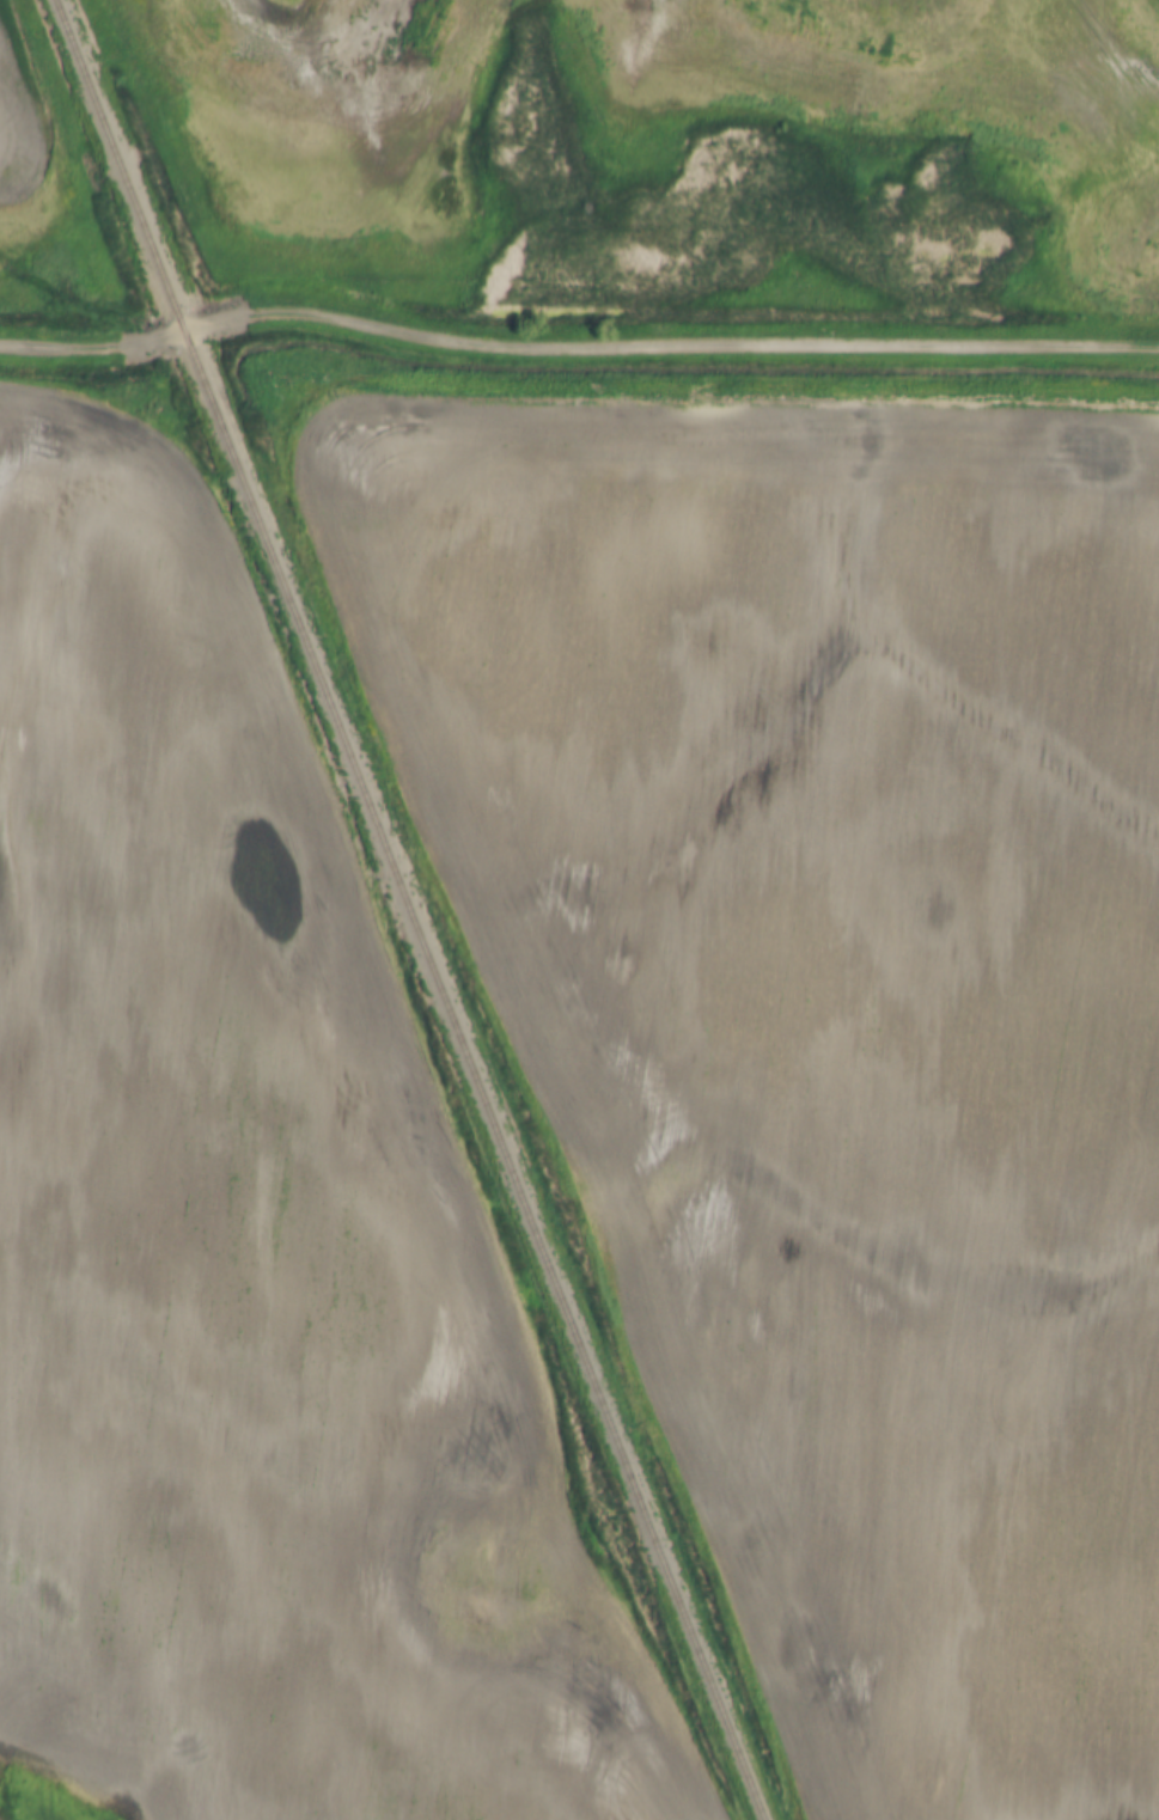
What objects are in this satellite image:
road: (574, 344)
railway: (408, 909)

